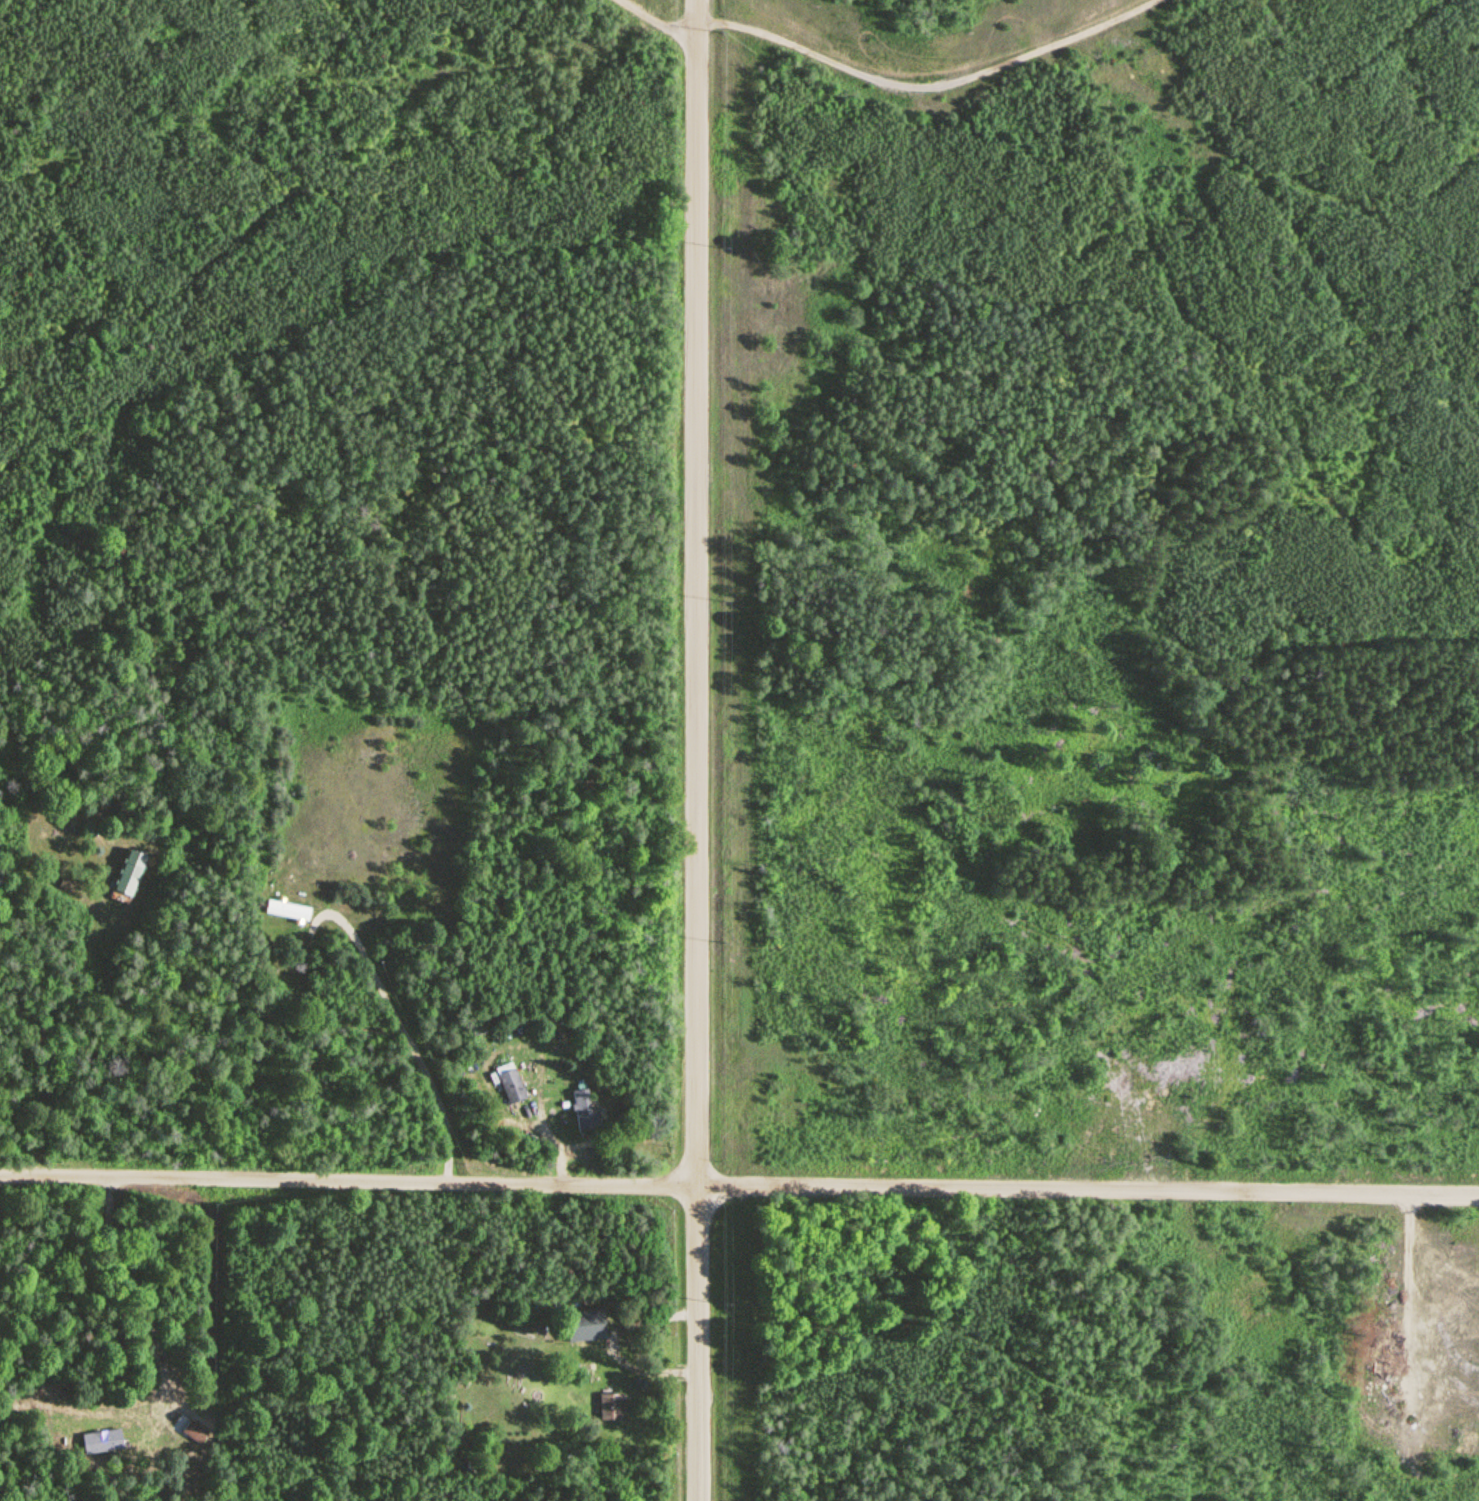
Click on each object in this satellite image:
road: (656, 21)
road: (930, 87)
road: (696, 593)
building: (166, 851)
building: (130, 872)
building: (67, 883)
building: (288, 909)
road: (398, 1026)
road: (54, 1032)
building: (511, 1082)
building: (585, 1110)
road: (544, 1132)
road: (587, 1148)
road: (573, 1150)
road: (348, 1179)
road: (1087, 1189)
road: (1405, 1294)
building: (585, 1323)
road: (697, 1344)
road: (616, 1345)
building: (611, 1406)
building: (196, 1429)
building: (103, 1442)

